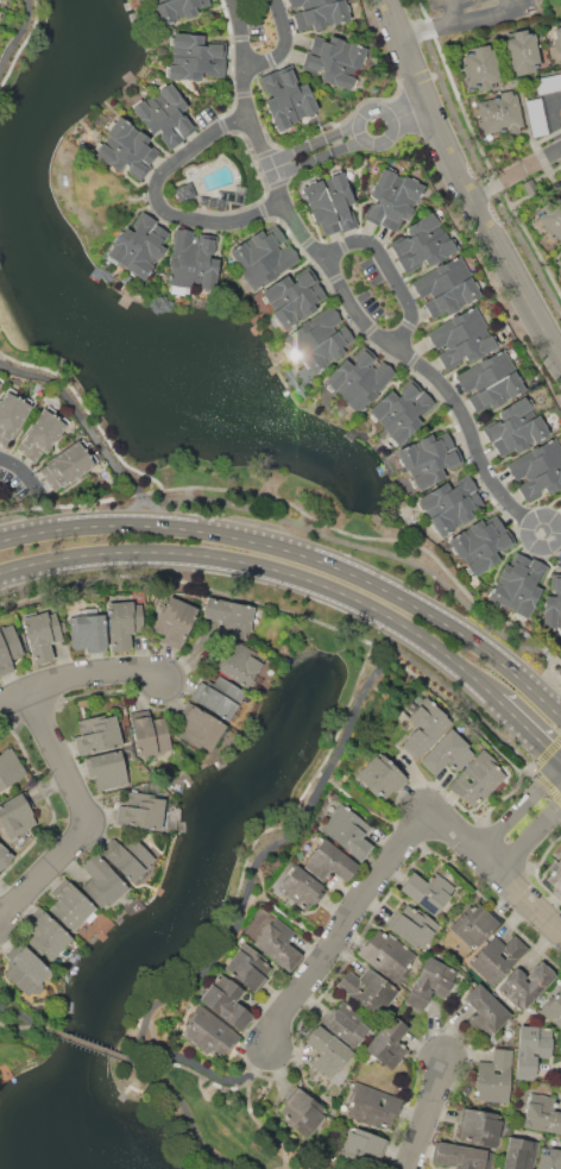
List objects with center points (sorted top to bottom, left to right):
building: (177, 8)
building: (319, 13)
parking lot: (471, 14)
road: (474, 17)
road: (427, 26)
road: (240, 31)
building: (557, 40)
road: (24, 42)
road: (284, 43)
building: (522, 52)
building: (195, 56)
building: (335, 61)
building: (480, 67)
building: (548, 83)
building: (286, 98)
building: (499, 114)
building: (164, 115)
building: (536, 117)
road: (377, 126)
road: (560, 146)
building: (127, 149)
road: (541, 156)
road: (301, 157)
road: (494, 181)
road: (462, 184)
building: (560, 187)
building: (392, 199)
road: (162, 202)
building: (329, 203)
building: (550, 216)
building: (423, 243)
building: (139, 245)
building: (261, 257)
building: (191, 260)
building: (560, 265)
building: (560, 271)
road: (387, 274)
building: (447, 287)
building: (292, 297)
road: (364, 328)
building: (461, 338)
building: (319, 340)
building: (358, 379)
building: (0, 381)
building: (491, 382)
building: (401, 411)
building: (13, 415)
building: (516, 427)
building: (40, 434)
building: (428, 459)
building: (68, 465)
building: (537, 470)
road: (27, 472)
building: (560, 502)
building: (450, 504)
road: (271, 518)
building: (480, 543)
road: (280, 547)
road: (260, 576)
building: (517, 584)
building: (553, 607)
building: (228, 616)
building: (174, 621)
building: (122, 623)
building: (88, 631)
building: (40, 635)
building: (7, 648)
building: (241, 664)
road: (81, 677)
road: (546, 696)
building: (220, 698)
road: (528, 727)
building: (198, 728)
building: (424, 728)
building: (96, 734)
building: (149, 734)
building: (447, 753)
building: (11, 766)
building: (107, 769)
building: (380, 775)
building: (478, 778)
building: (139, 810)
road: (516, 811)
building: (15, 815)
road: (93, 822)
building: (347, 831)
road: (529, 838)
road: (396, 848)
road: (267, 850)
building: (4, 856)
building: (130, 857)
building: (329, 861)
building: (555, 878)
building: (101, 881)
building: (301, 887)
building: (428, 891)
building: (70, 906)
building: (474, 924)
building: (412, 925)
building: (45, 936)
building: (277, 942)
building: (387, 955)
building: (497, 957)
building: (247, 968)
building: (26, 972)
building: (429, 982)
building: (527, 983)
building: (368, 989)
building: (226, 1003)
building: (553, 1008)
building: (485, 1011)
building: (347, 1024)
road: (29, 1027)
building: (208, 1032)
building: (385, 1039)
road: (93, 1048)
building: (531, 1049)
building: (328, 1051)
building: (493, 1076)
building: (371, 1104)
road: (179, 1105)
road: (251, 1107)
building: (302, 1110)
building: (541, 1114)
road: (424, 1118)
building: (480, 1127)
building: (363, 1145)
building: (519, 1154)
building: (461, 1157)
building: (549, 1158)

